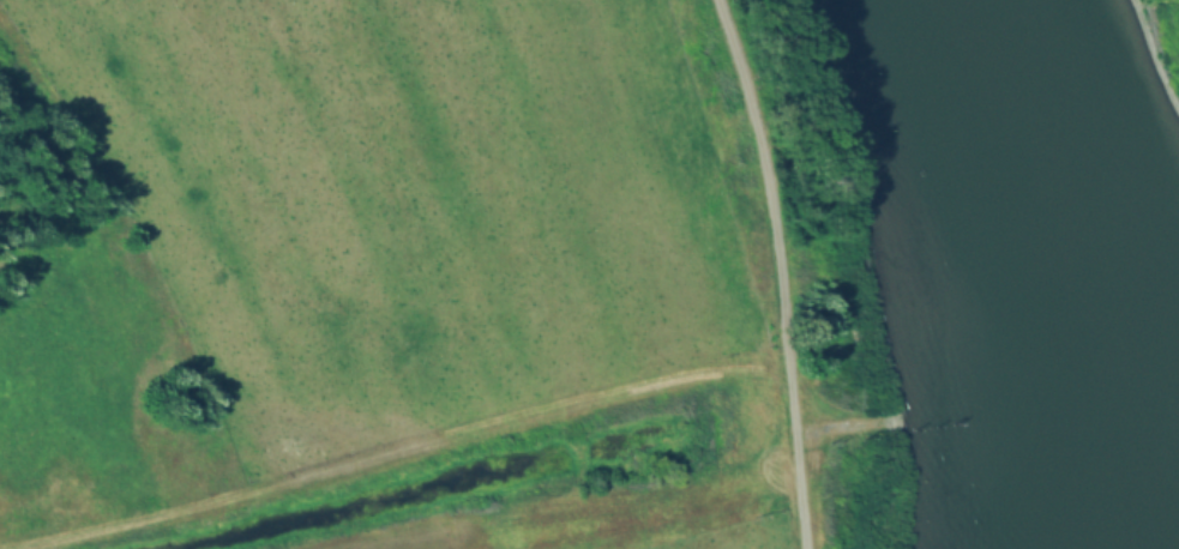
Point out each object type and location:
river: (1061, 230)
road: (783, 270)
river: (1100, 456)

